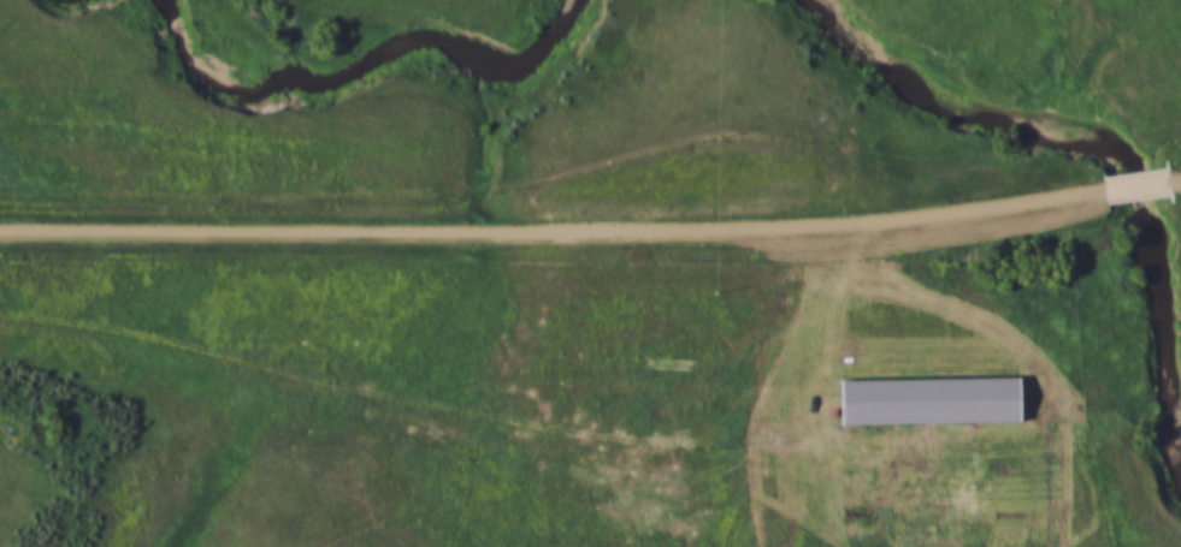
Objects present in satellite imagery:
road: (1164, 25)
river: (360, 69)
river: (1109, 151)
road: (1175, 179)
road: (1138, 185)
road: (553, 231)
road: (302, 361)
building: (922, 392)

